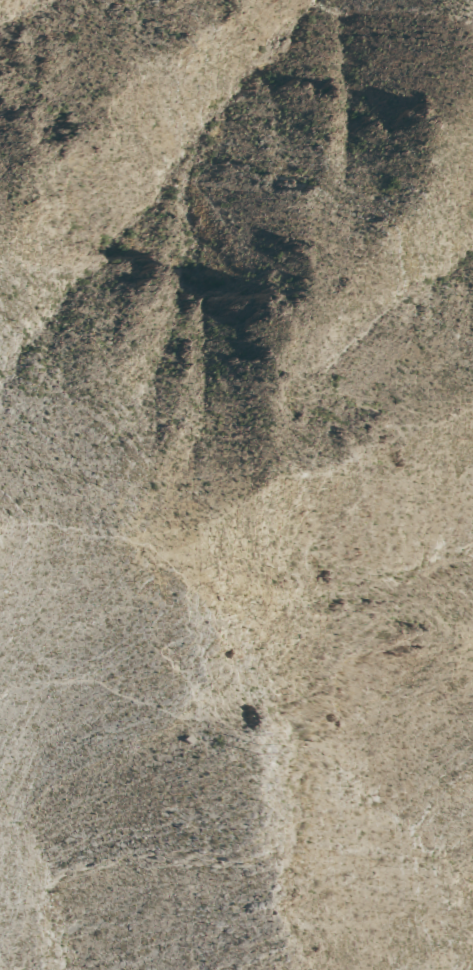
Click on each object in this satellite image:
road: (144, 653)
building: (179, 741)

